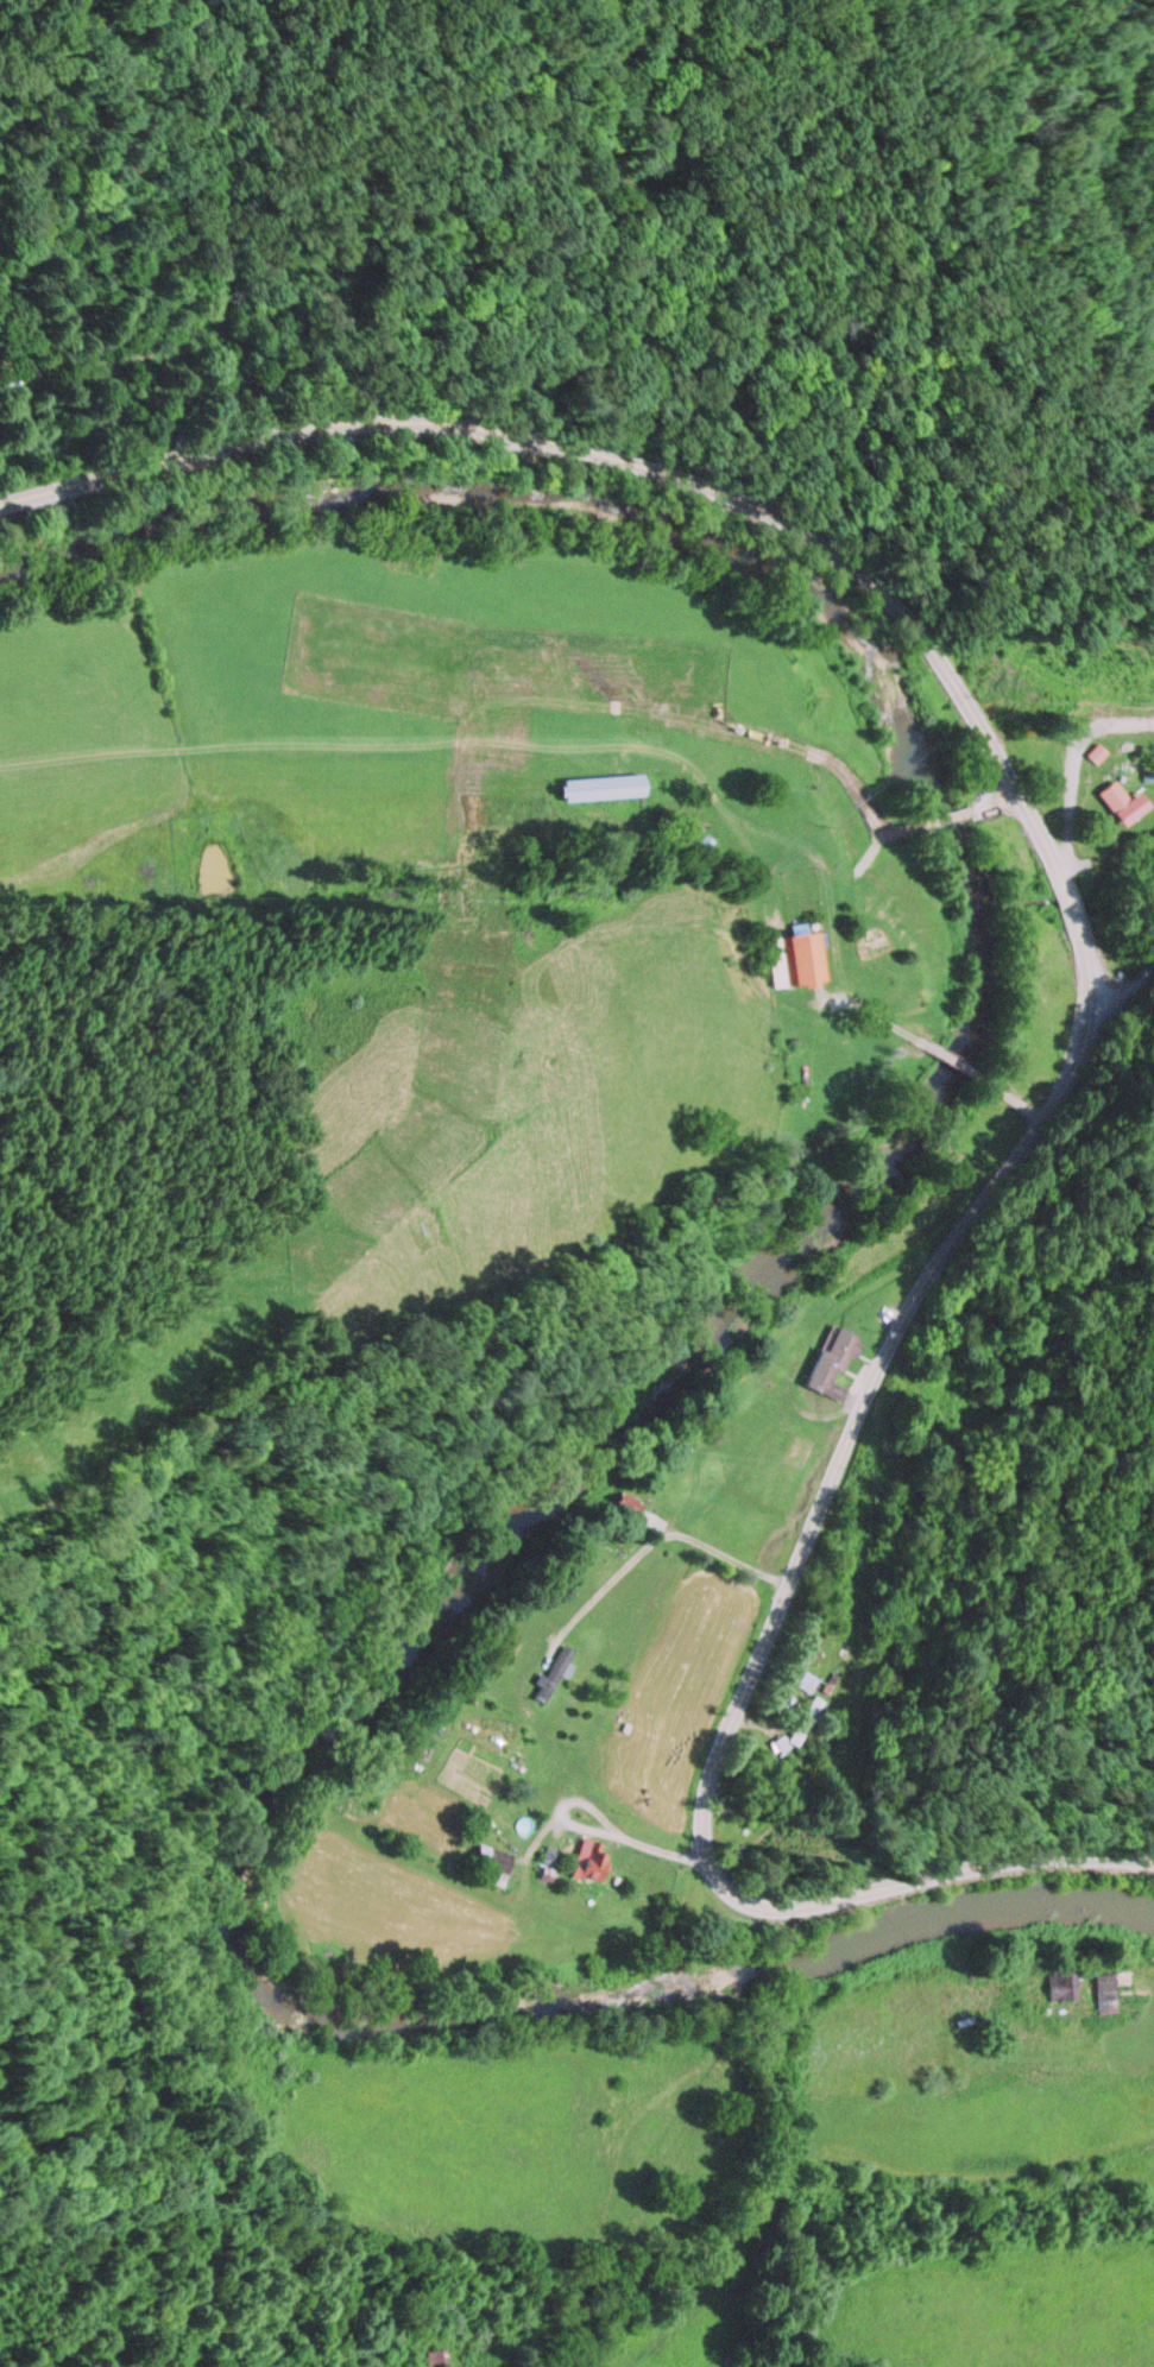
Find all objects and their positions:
road: (624, 459)
building: (1090, 753)
building: (588, 789)
building: (1104, 796)
road: (1065, 901)
road: (1120, 958)
building: (786, 959)
road: (865, 1010)
road: (951, 1063)
road: (1017, 1103)
river: (687, 1344)
building: (824, 1363)
building: (619, 1508)
road: (647, 1545)
road: (781, 1593)
building: (546, 1674)
building: (803, 1684)
building: (800, 1723)
road: (622, 1838)
building: (543, 1856)
building: (480, 1866)
building: (1057, 1986)
building: (1097, 1992)
road: (838, 2153)
building: (428, 2357)

